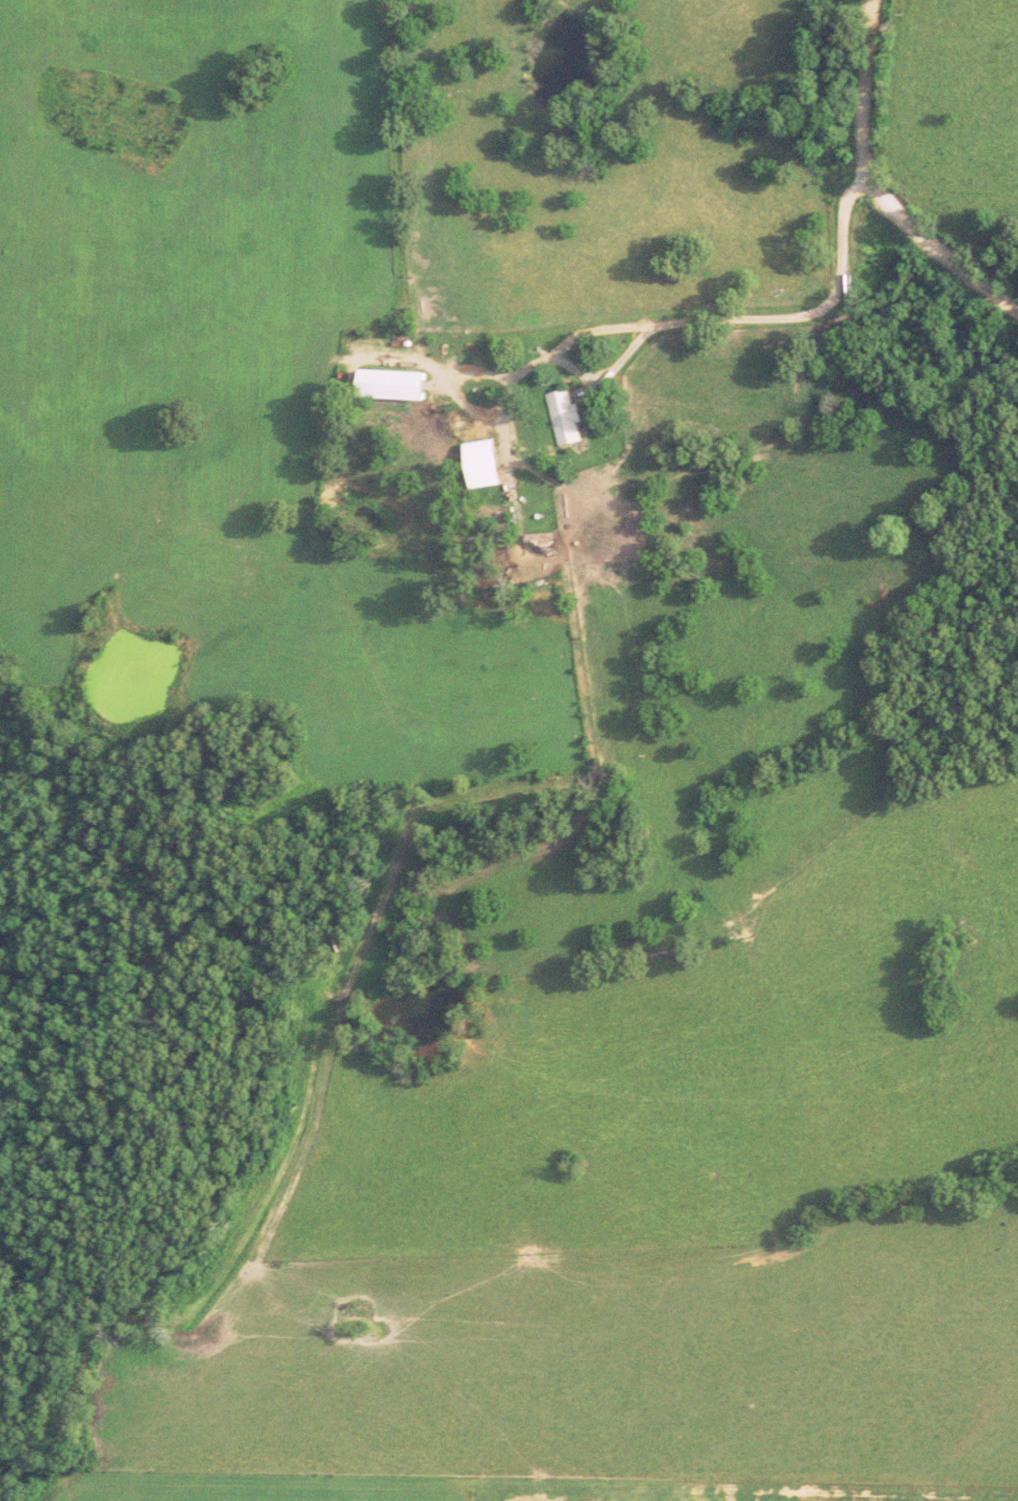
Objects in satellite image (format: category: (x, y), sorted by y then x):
road: (876, 187)
road: (737, 353)
building: (394, 388)
building: (566, 420)
building: (485, 467)
building: (544, 547)

